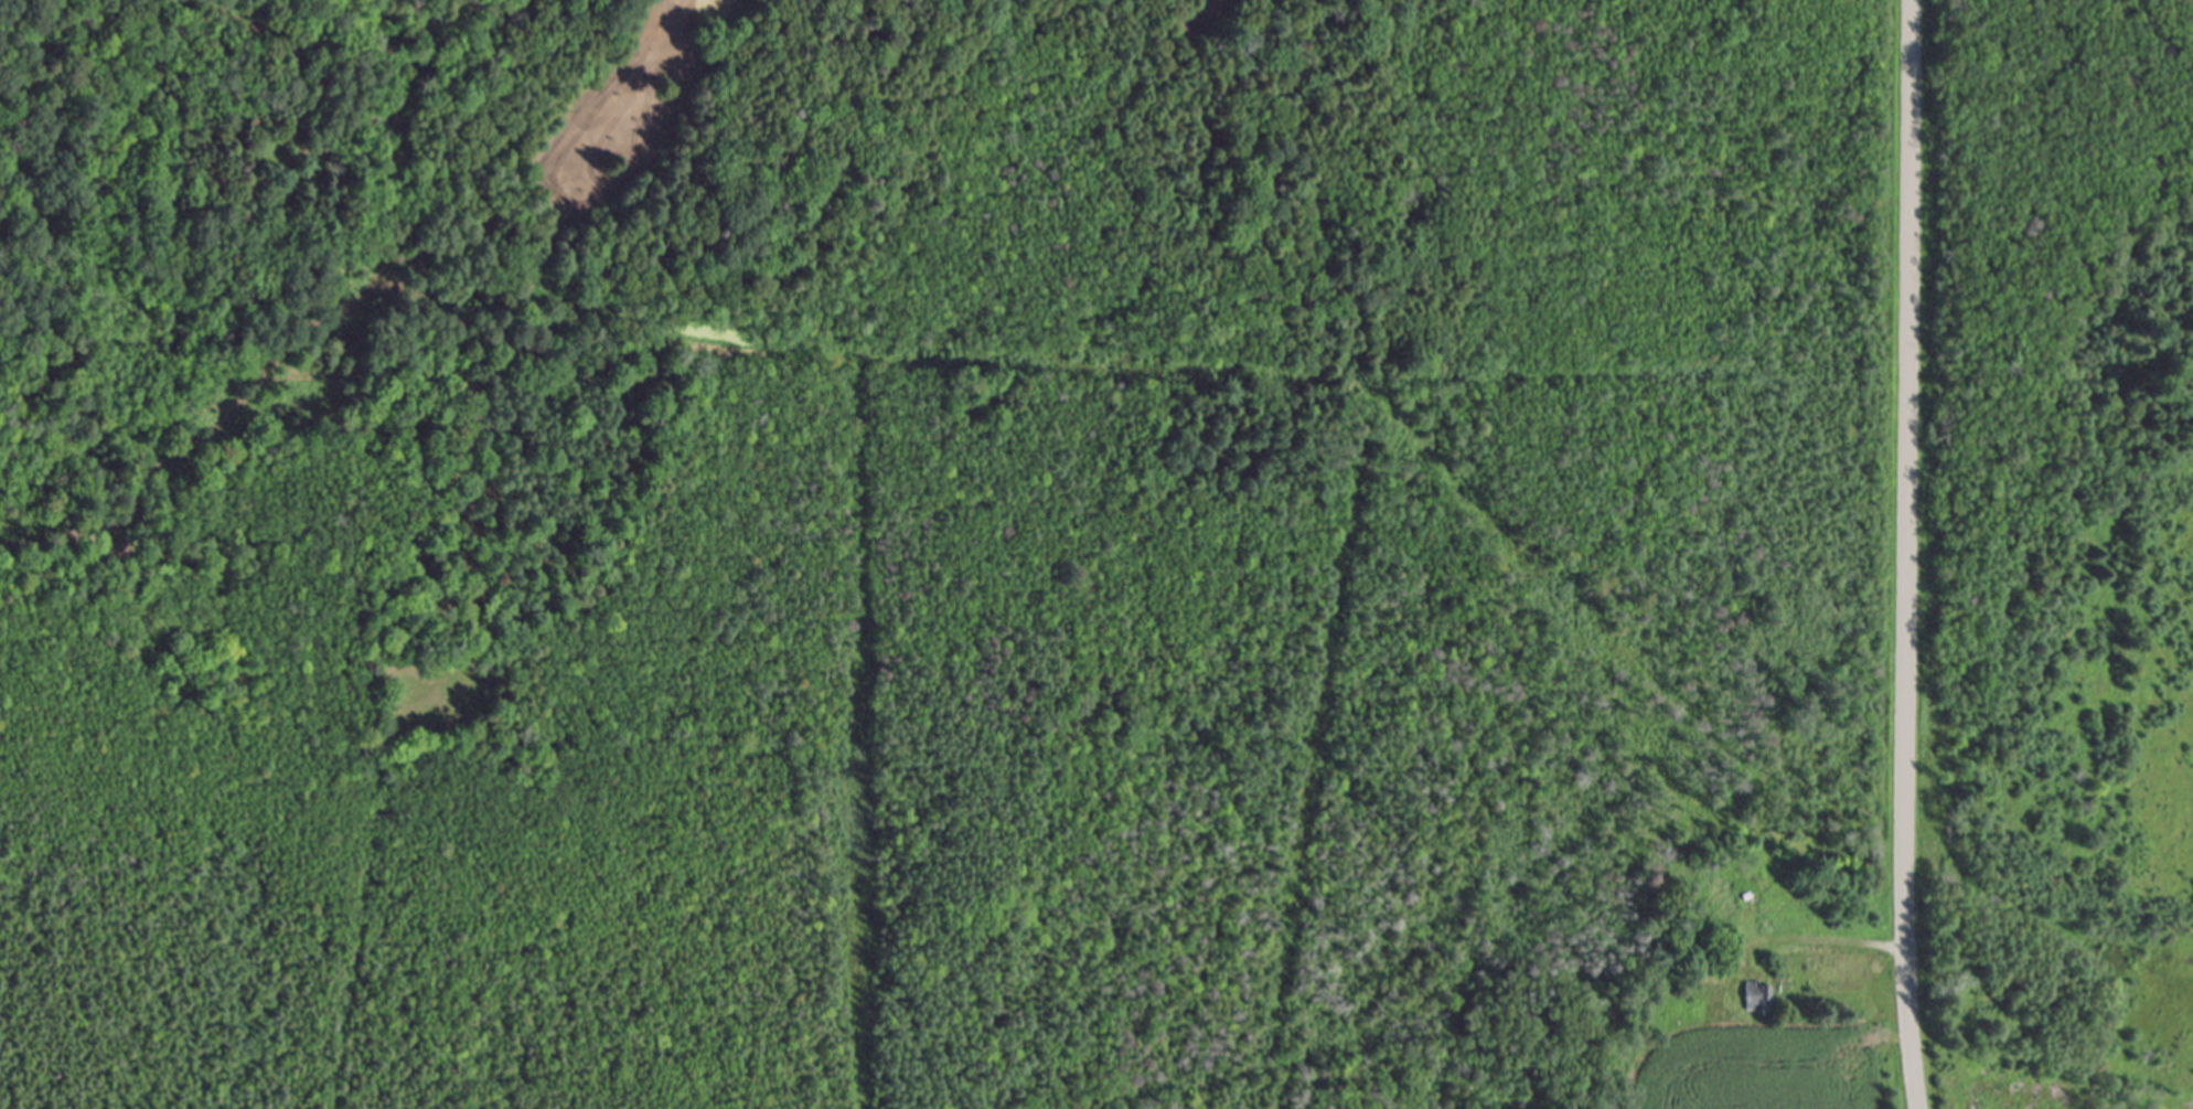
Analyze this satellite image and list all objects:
road: (1907, 554)
road: (1839, 942)
building: (1755, 998)

